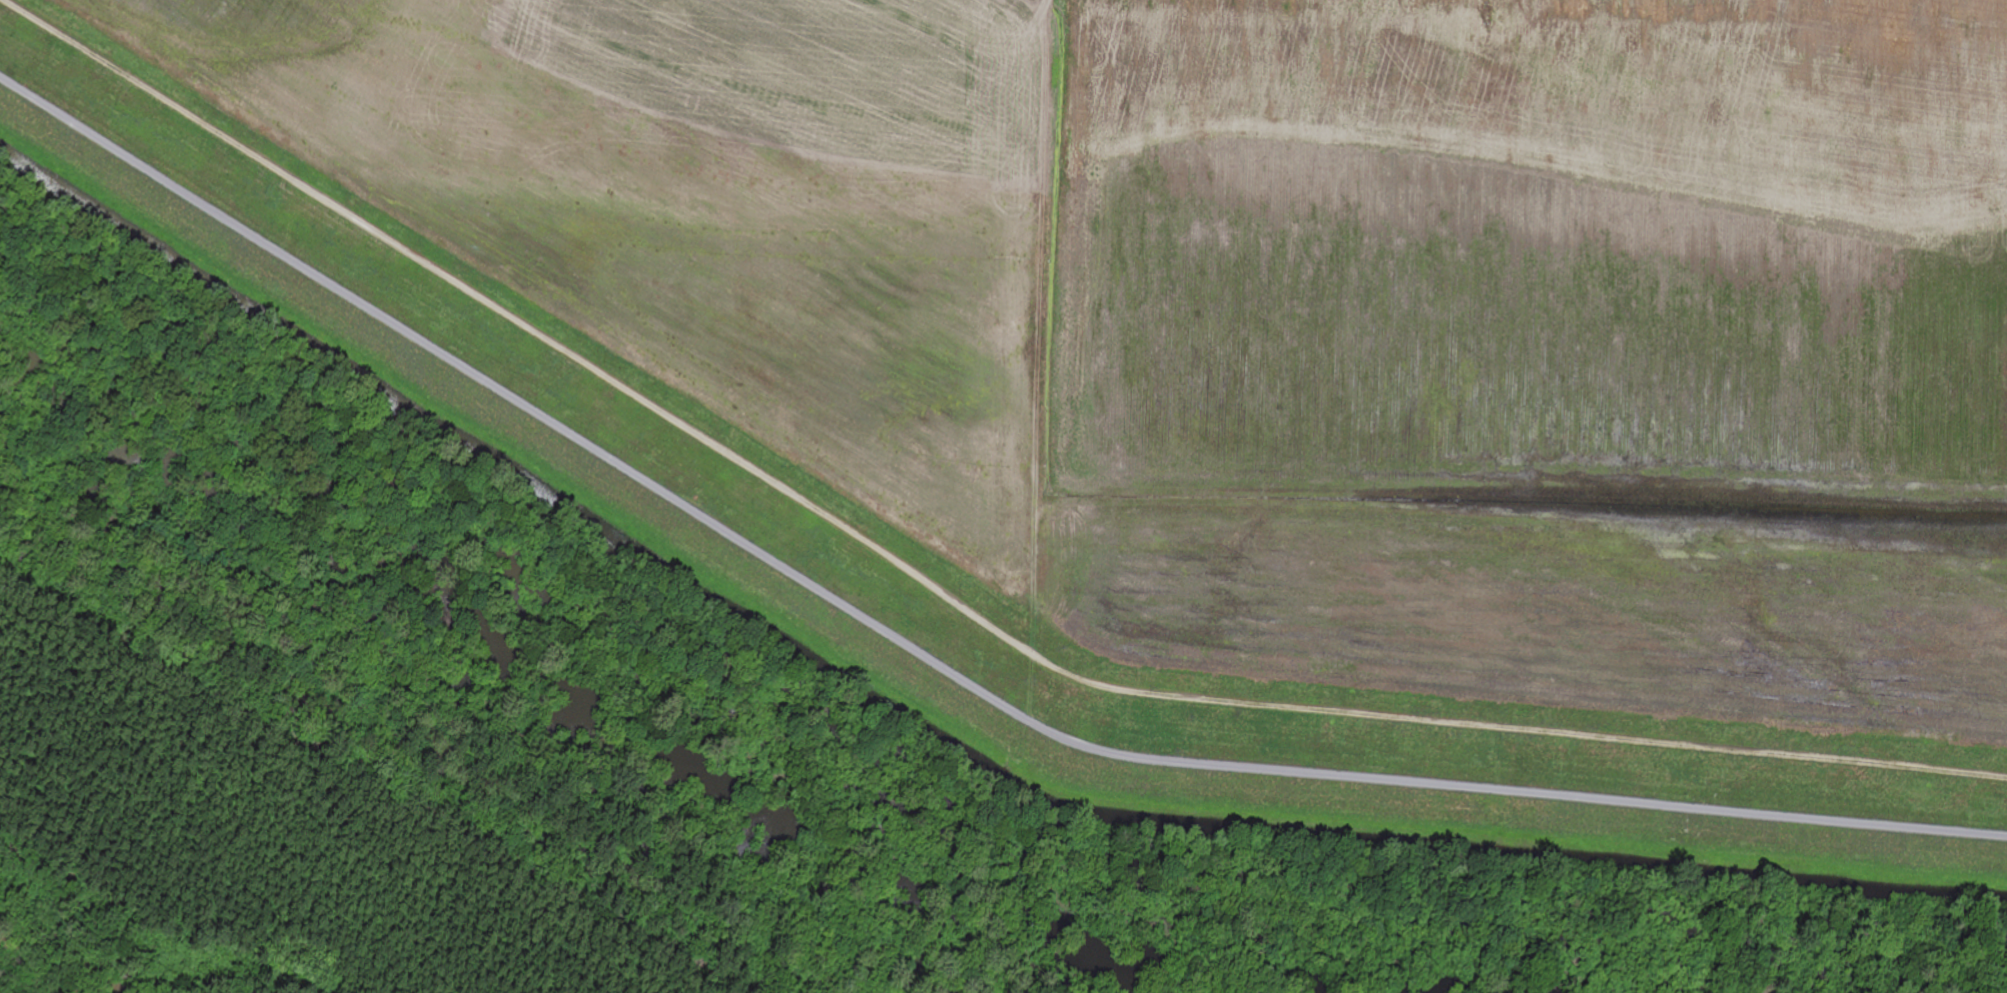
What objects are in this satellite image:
road: (1039, 310)
road: (937, 586)
road: (933, 661)

